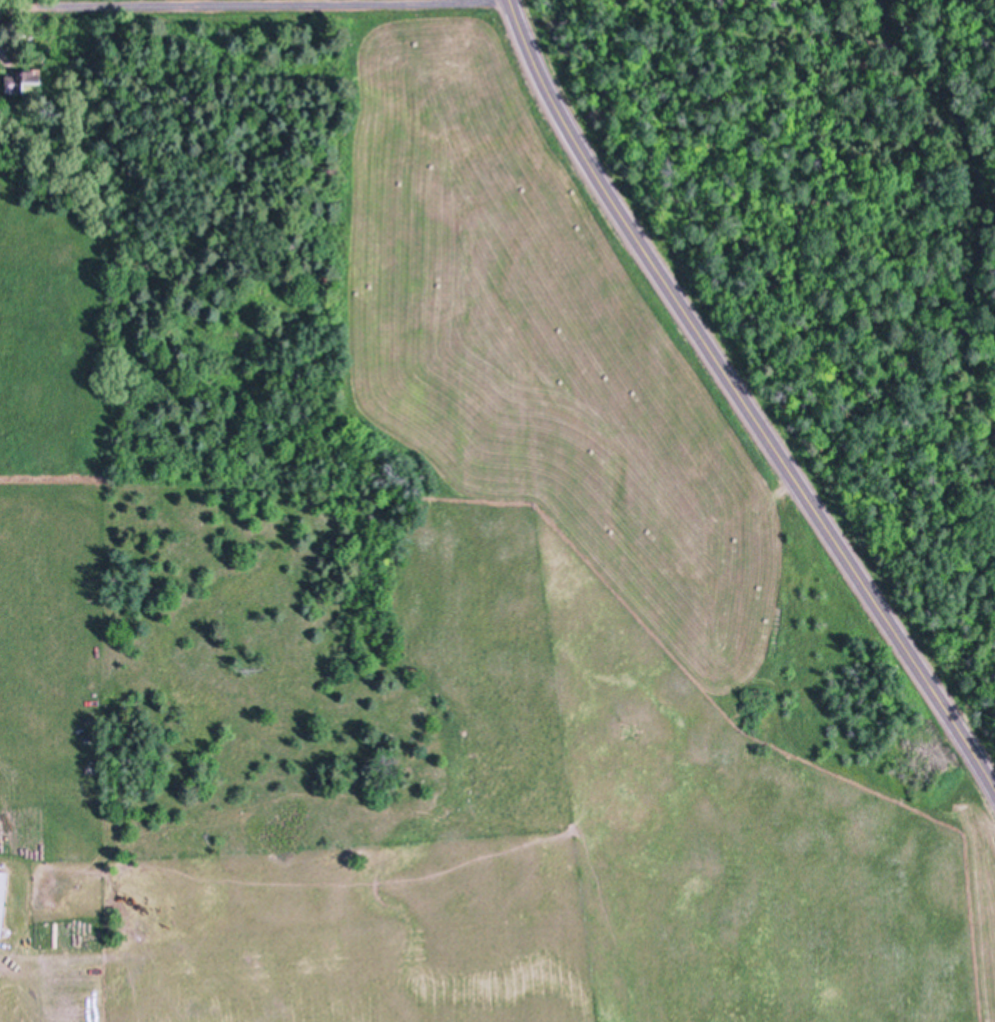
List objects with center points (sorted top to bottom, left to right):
road: (205, 4)
building: (25, 81)
road: (739, 400)
building: (3, 897)

